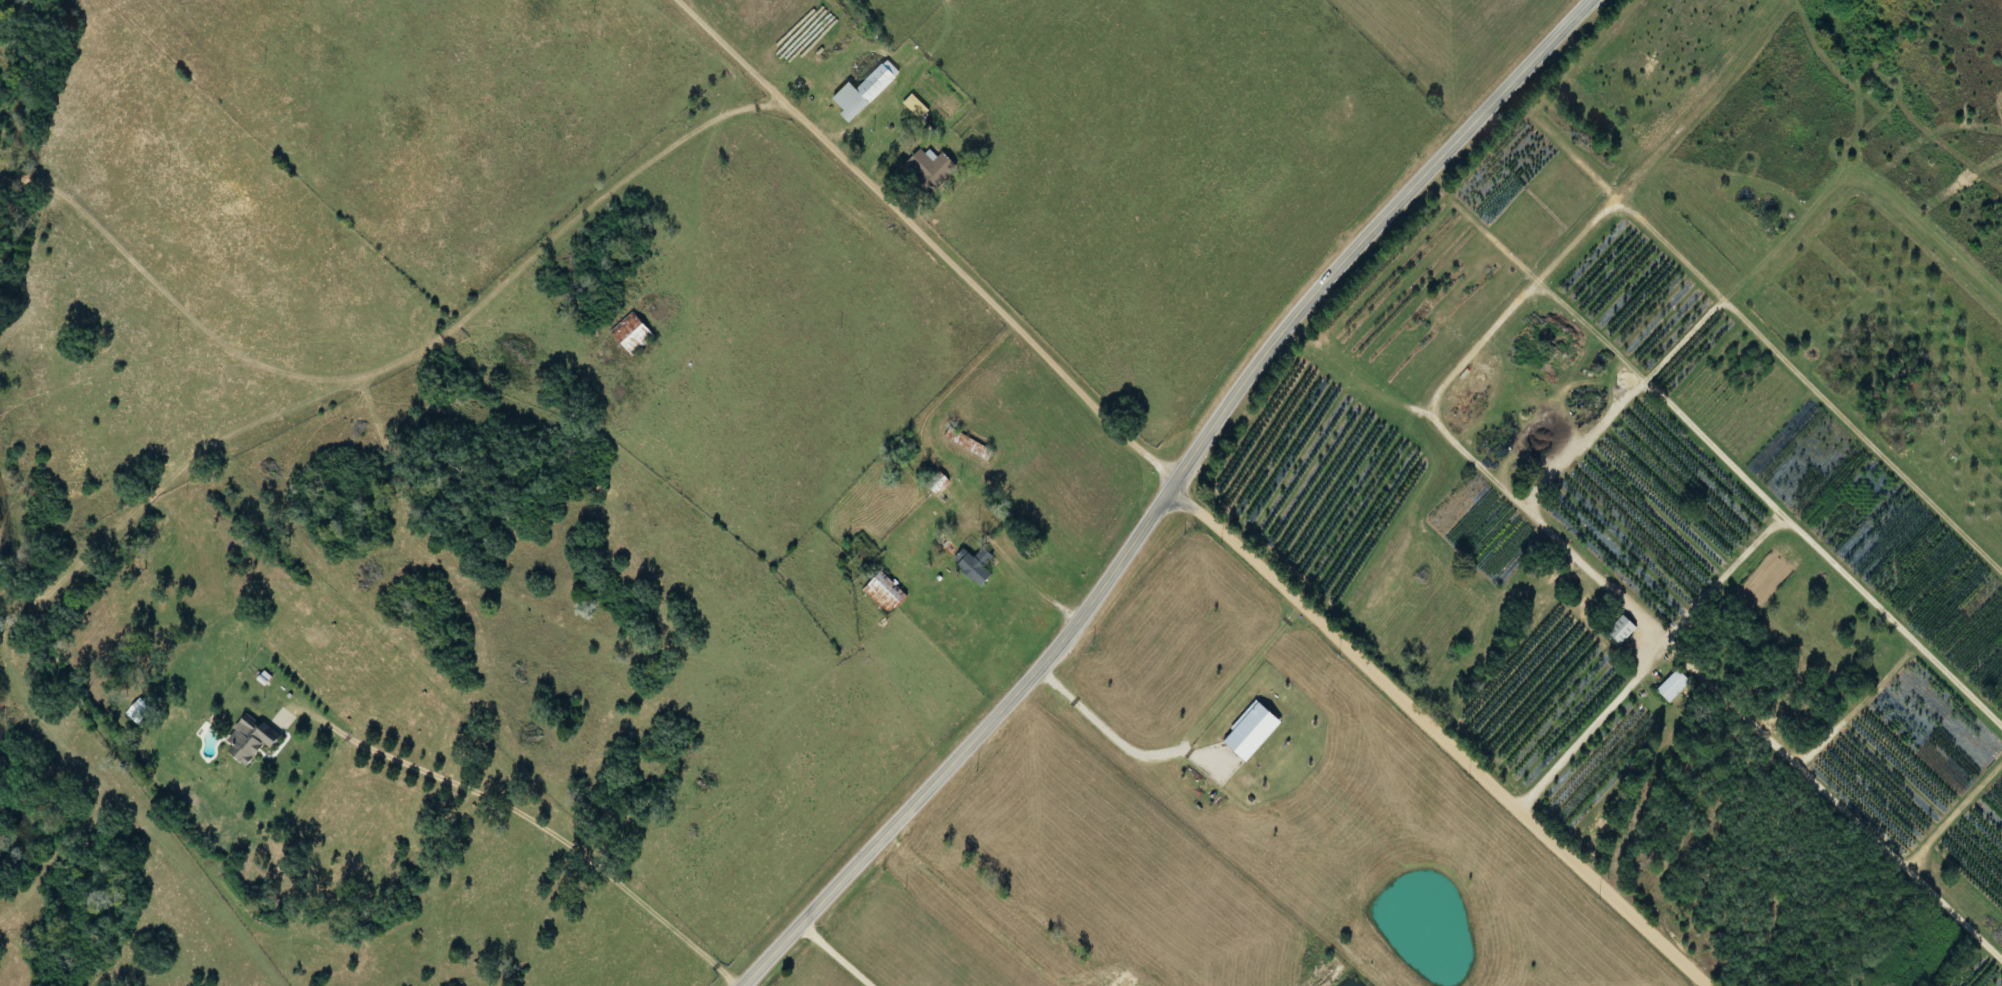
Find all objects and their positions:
building: (860, 91)
building: (927, 167)
road: (925, 241)
road: (394, 358)
road: (1689, 437)
building: (931, 486)
road: (1163, 493)
building: (970, 565)
road: (1040, 587)
building: (879, 593)
building: (1617, 630)
building: (1669, 686)
road: (1590, 728)
road: (1438, 735)
building: (246, 739)
road: (1831, 797)

